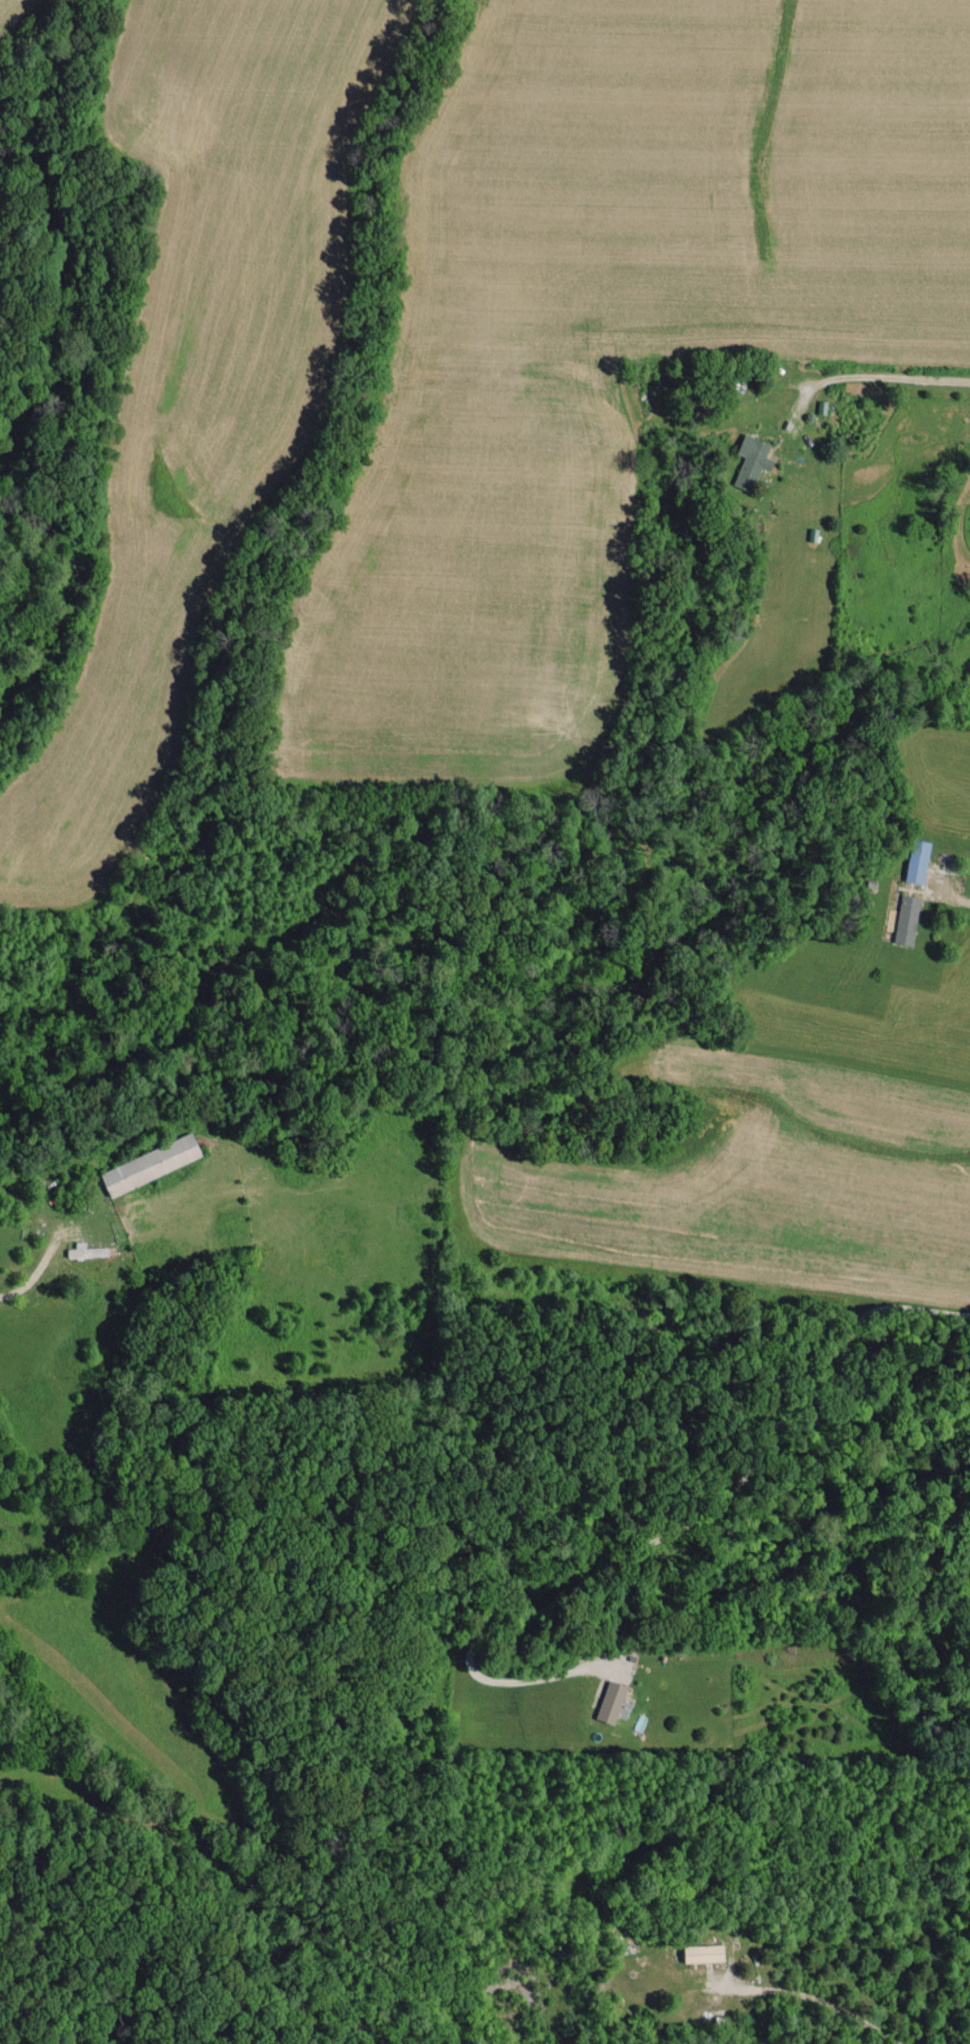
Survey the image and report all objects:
road: (860, 374)
building: (752, 460)
building: (918, 860)
road: (951, 895)
building: (907, 918)
building: (151, 1163)
building: (87, 1250)
road: (36, 1269)
road: (667, 1518)
building: (611, 1701)
road: (48, 1919)
building: (703, 1952)
road: (816, 1997)

